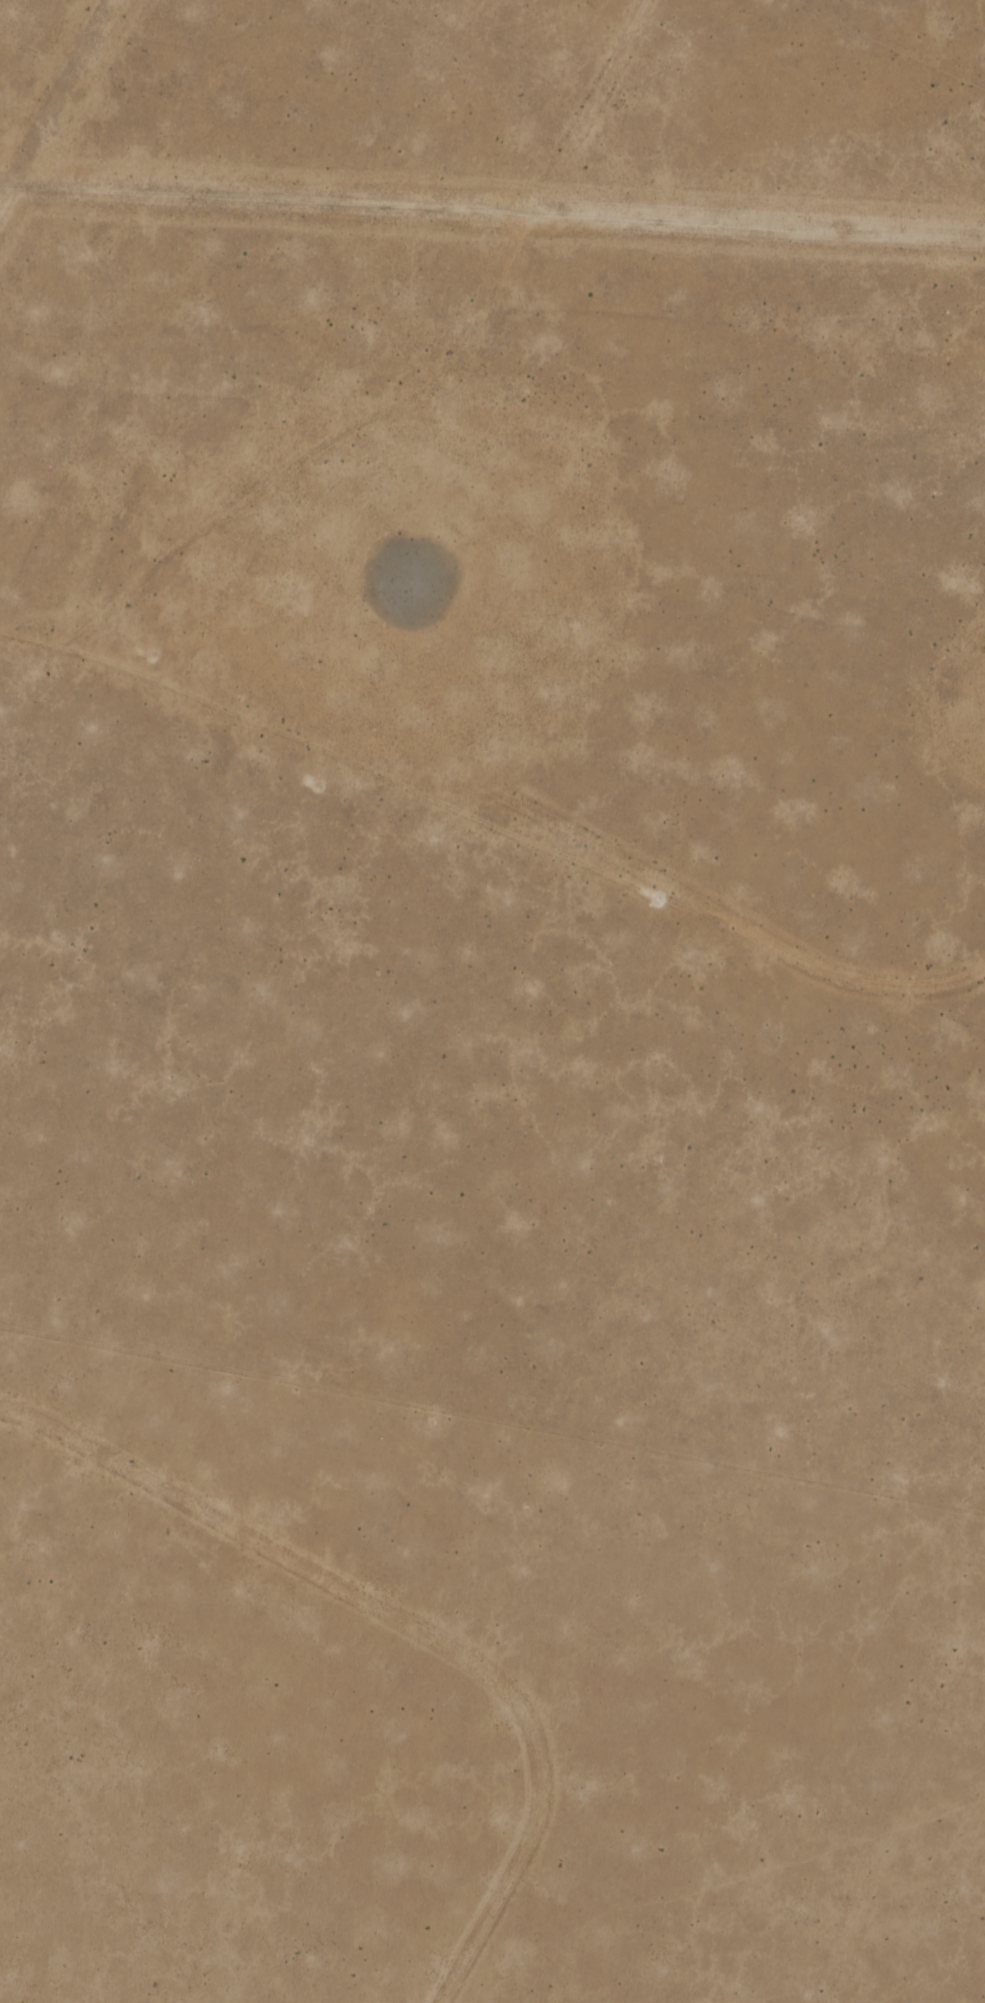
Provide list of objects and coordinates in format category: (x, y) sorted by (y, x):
airport runway: (58, 110)
airport runway: (492, 217)
road: (437, 387)
road: (460, 808)
road: (922, 987)
road: (951, 1011)
road: (414, 1624)

